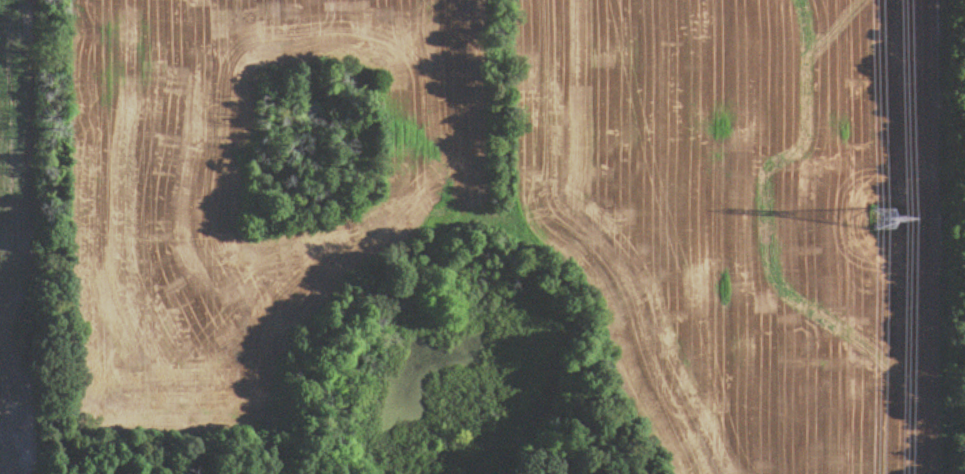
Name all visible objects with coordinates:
power tower: (880, 221)

